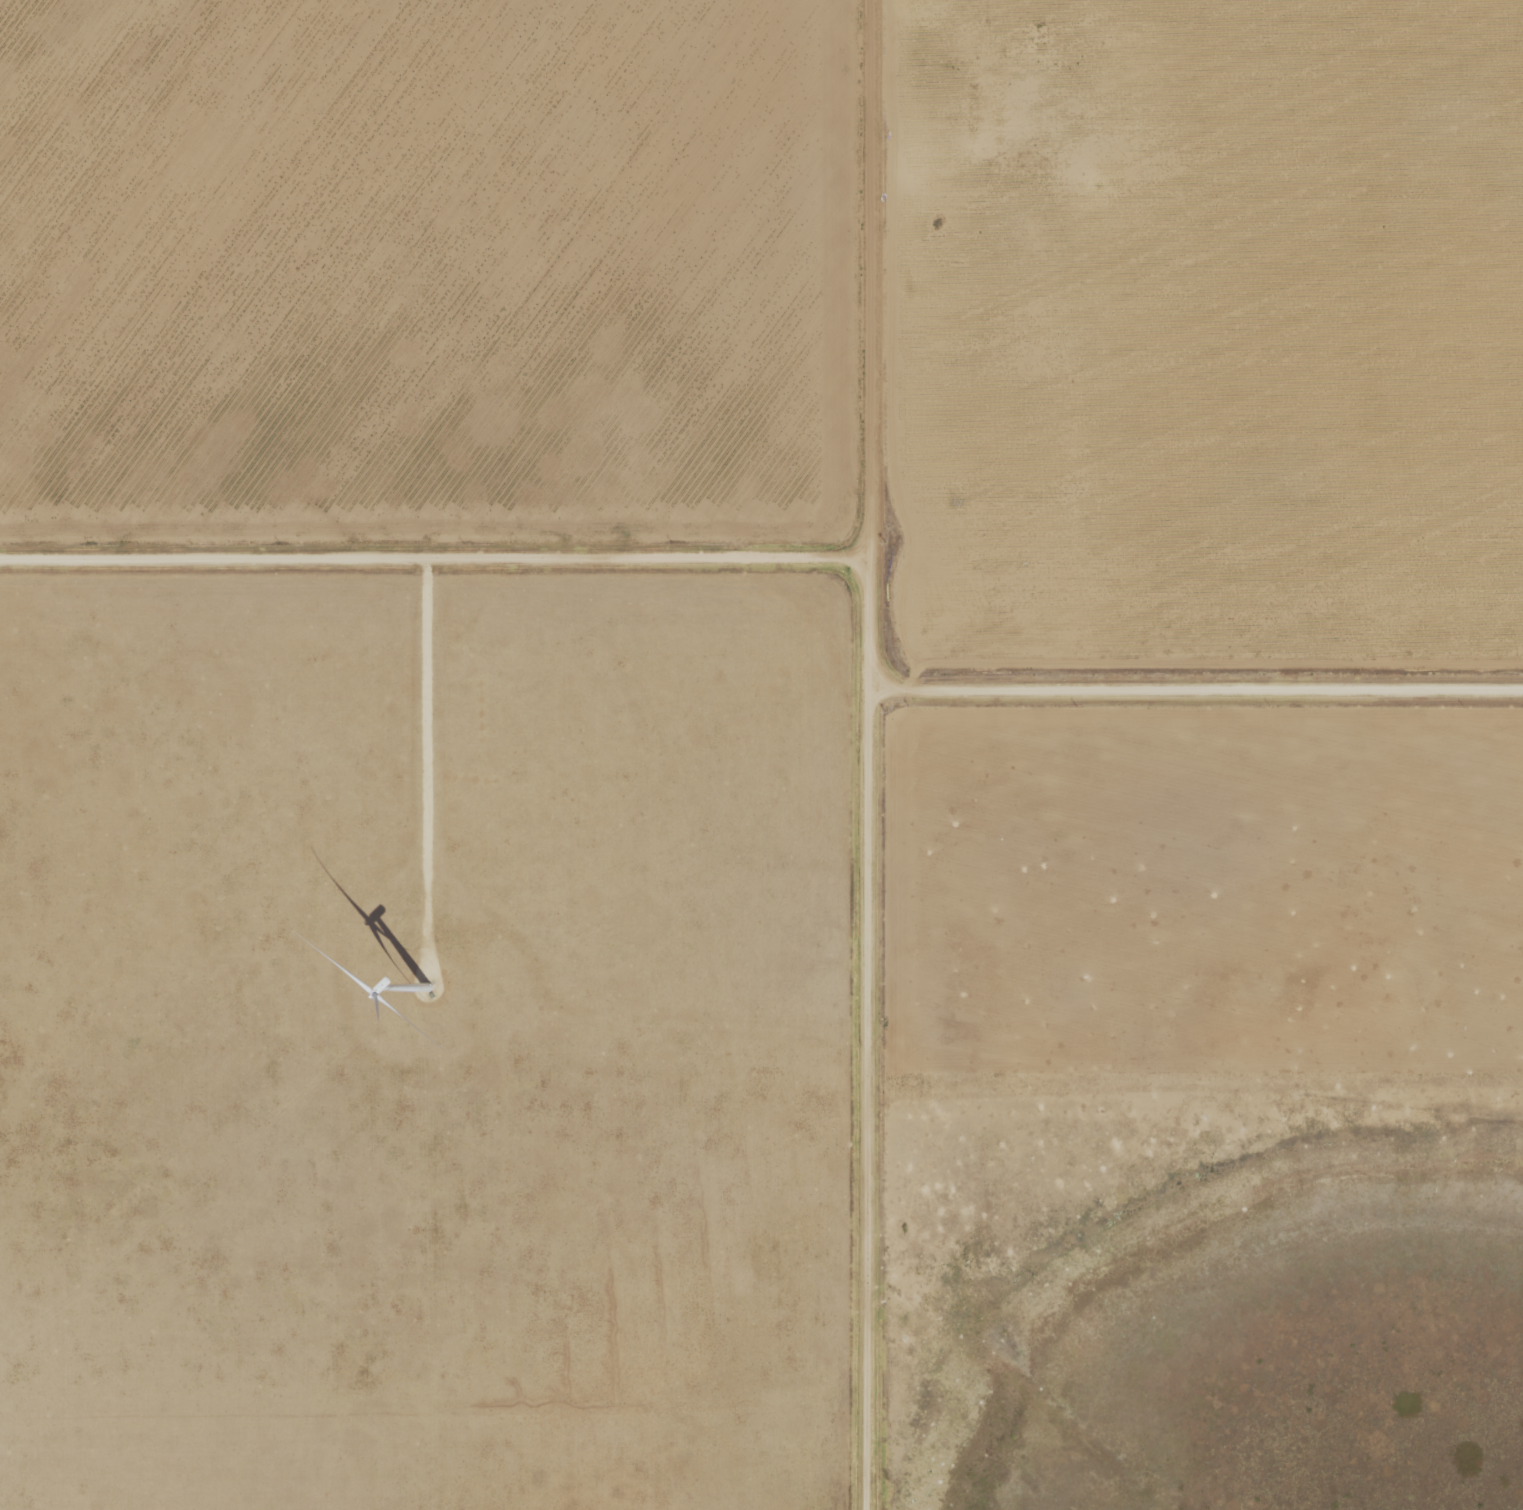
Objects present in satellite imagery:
road: (859, 90)
road: (429, 558)
road: (1200, 691)
road: (877, 844)
wind turbine: (423, 989)

